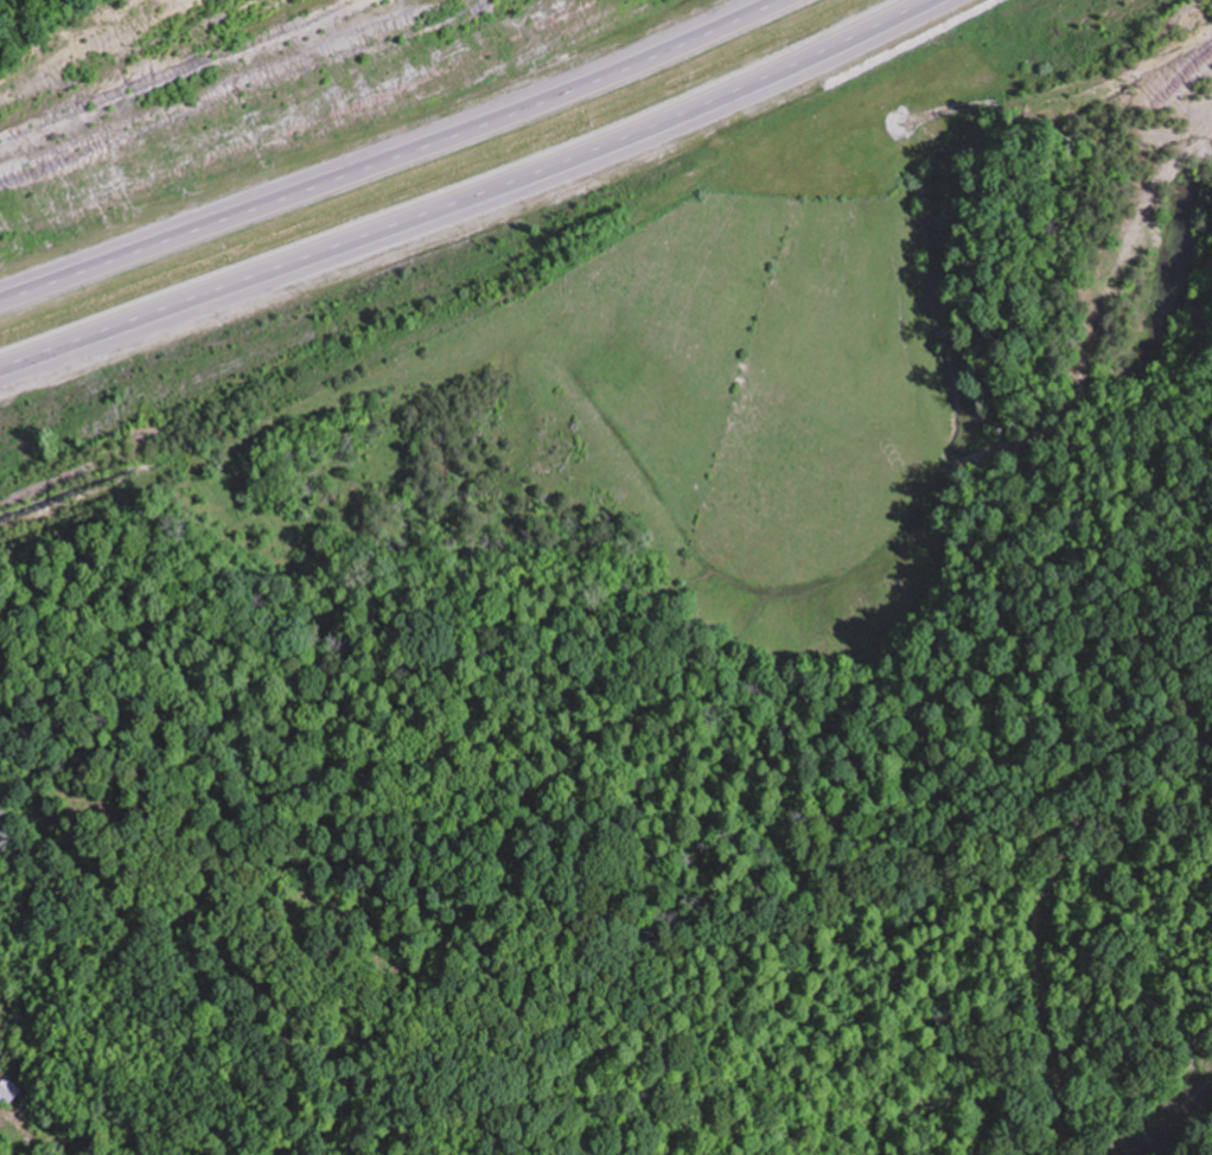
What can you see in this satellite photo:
road: (389, 155)
road: (476, 200)
building: (8, 1090)

